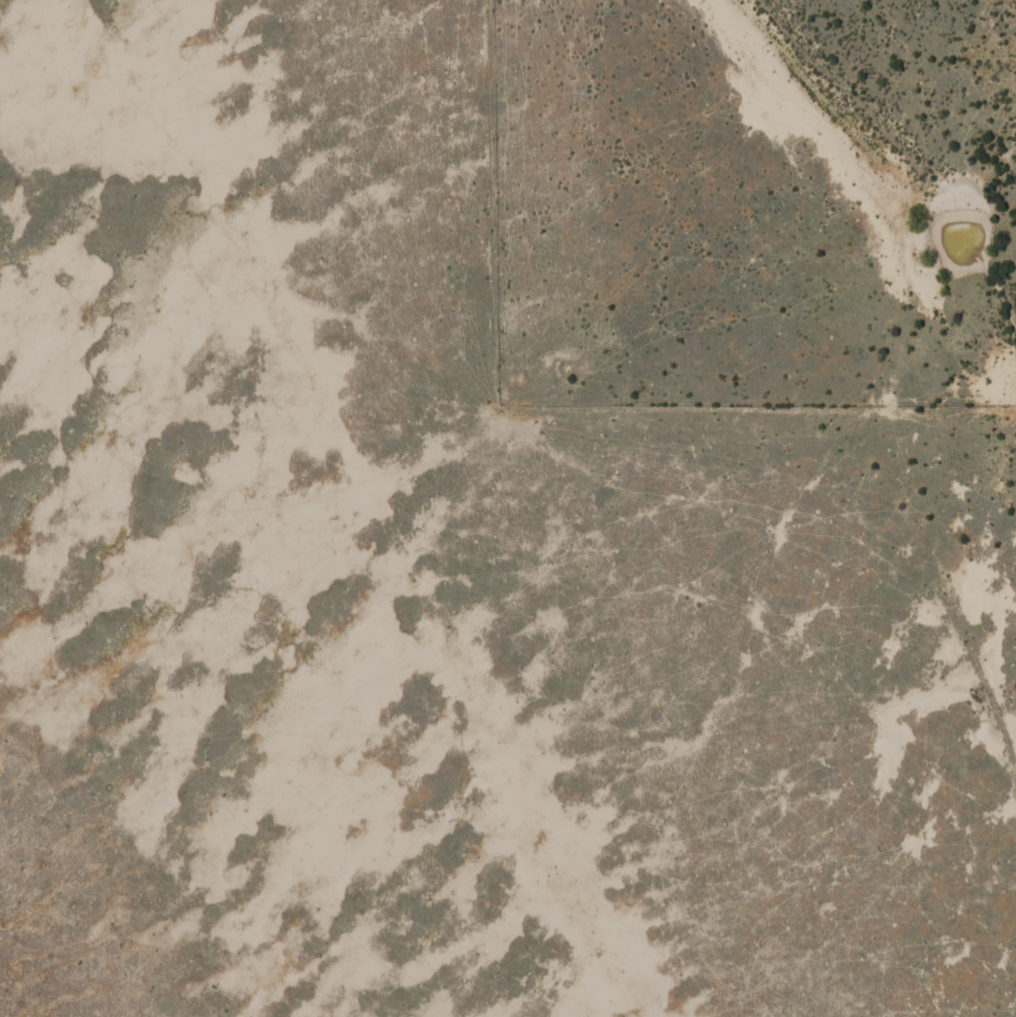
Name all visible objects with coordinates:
road: (882, 218)

